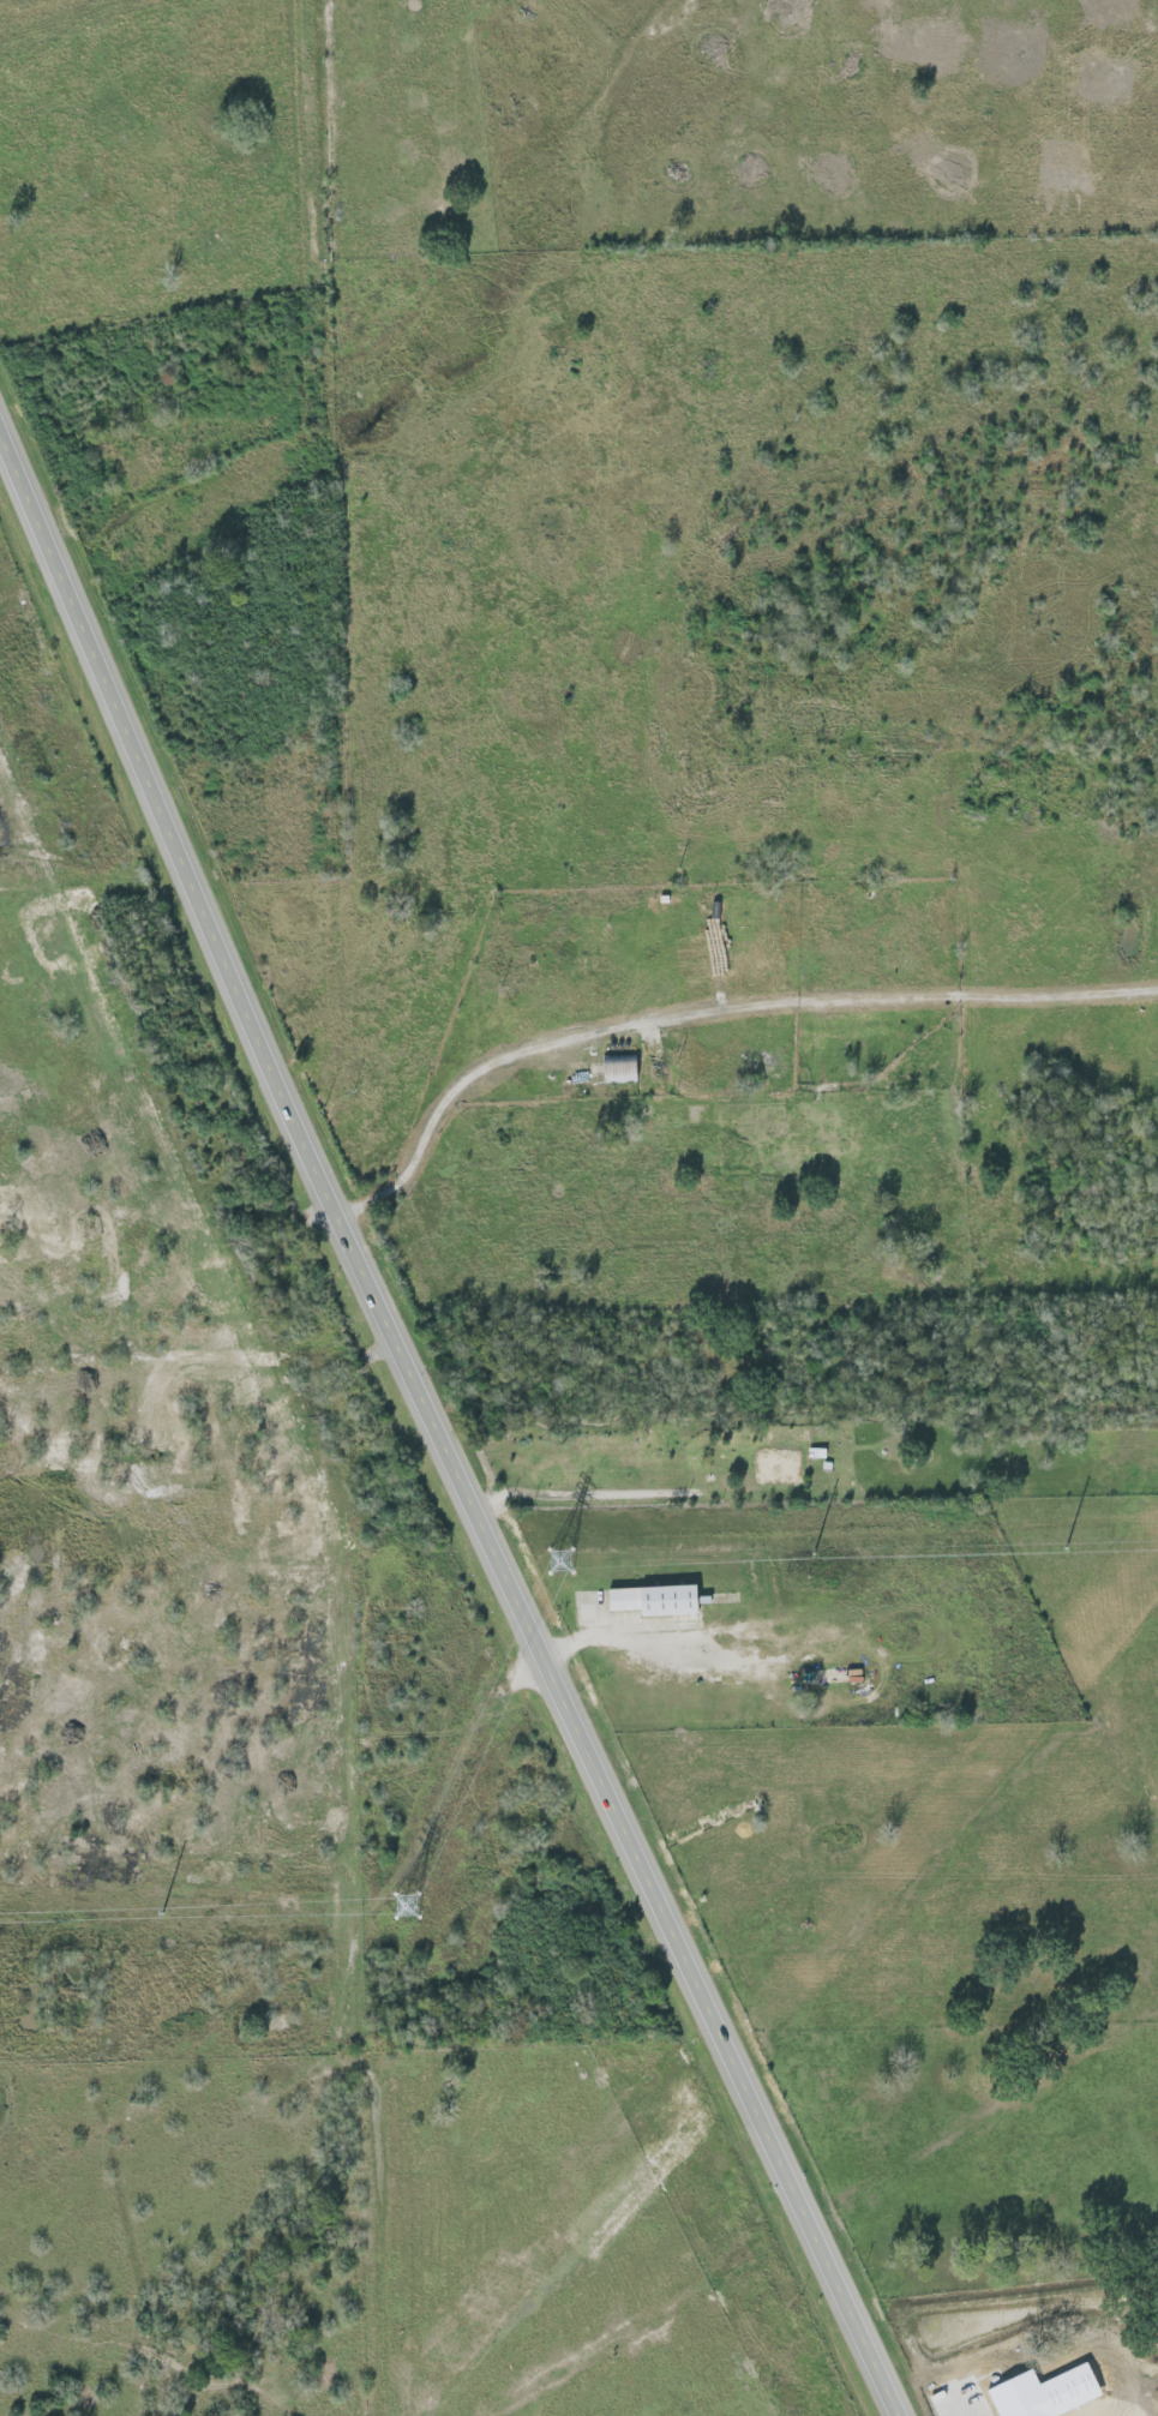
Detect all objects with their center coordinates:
road: (713, 1030)
building: (614, 1069)
road: (386, 1321)
power tower: (560, 1563)
building: (649, 1600)
road: (618, 1632)
power tower: (408, 1906)
road: (852, 2312)

